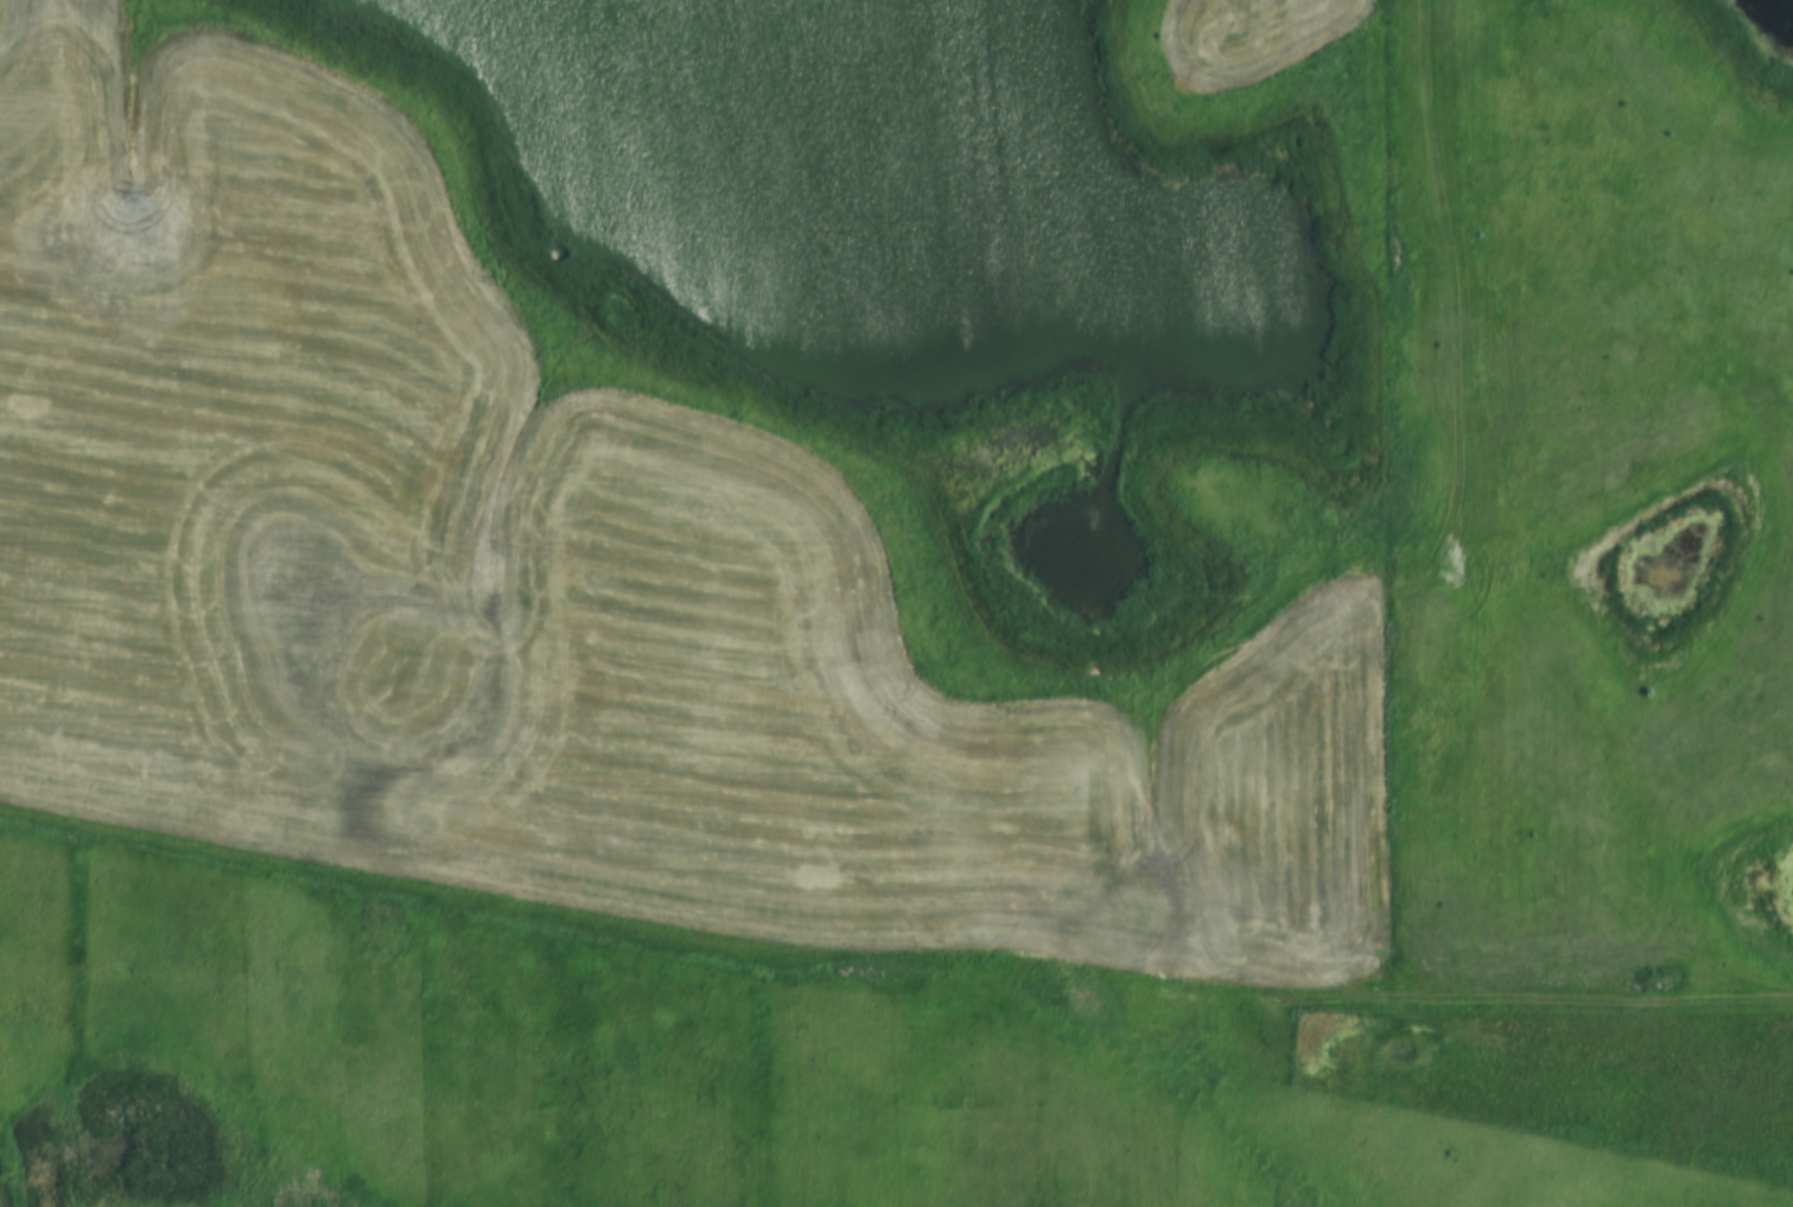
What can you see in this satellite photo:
road: (1321, 992)

